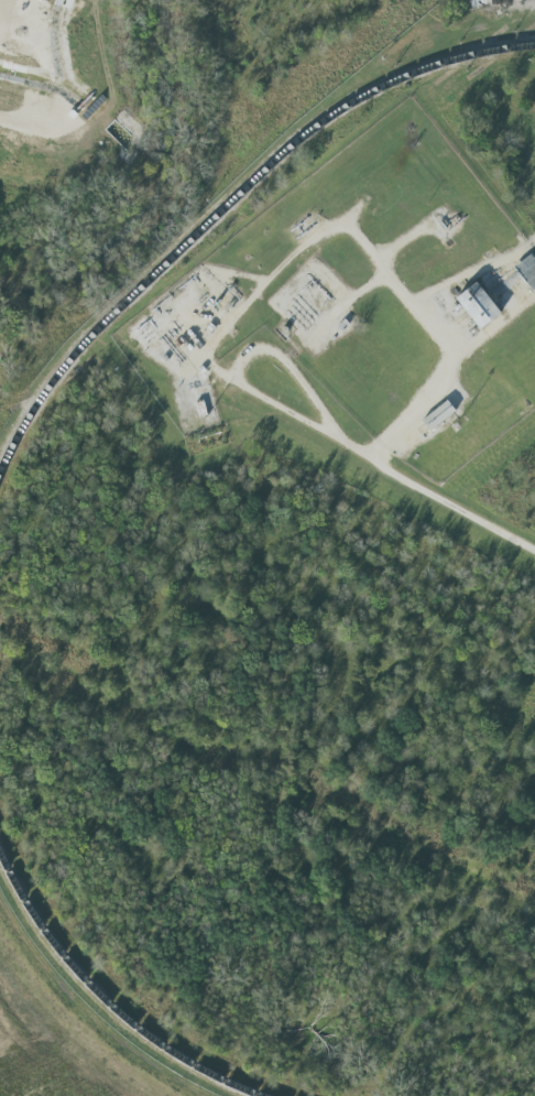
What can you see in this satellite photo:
railway: (229, 199)
building: (472, 305)
road: (444, 339)
road: (292, 366)
road: (351, 445)
railway: (106, 1003)

